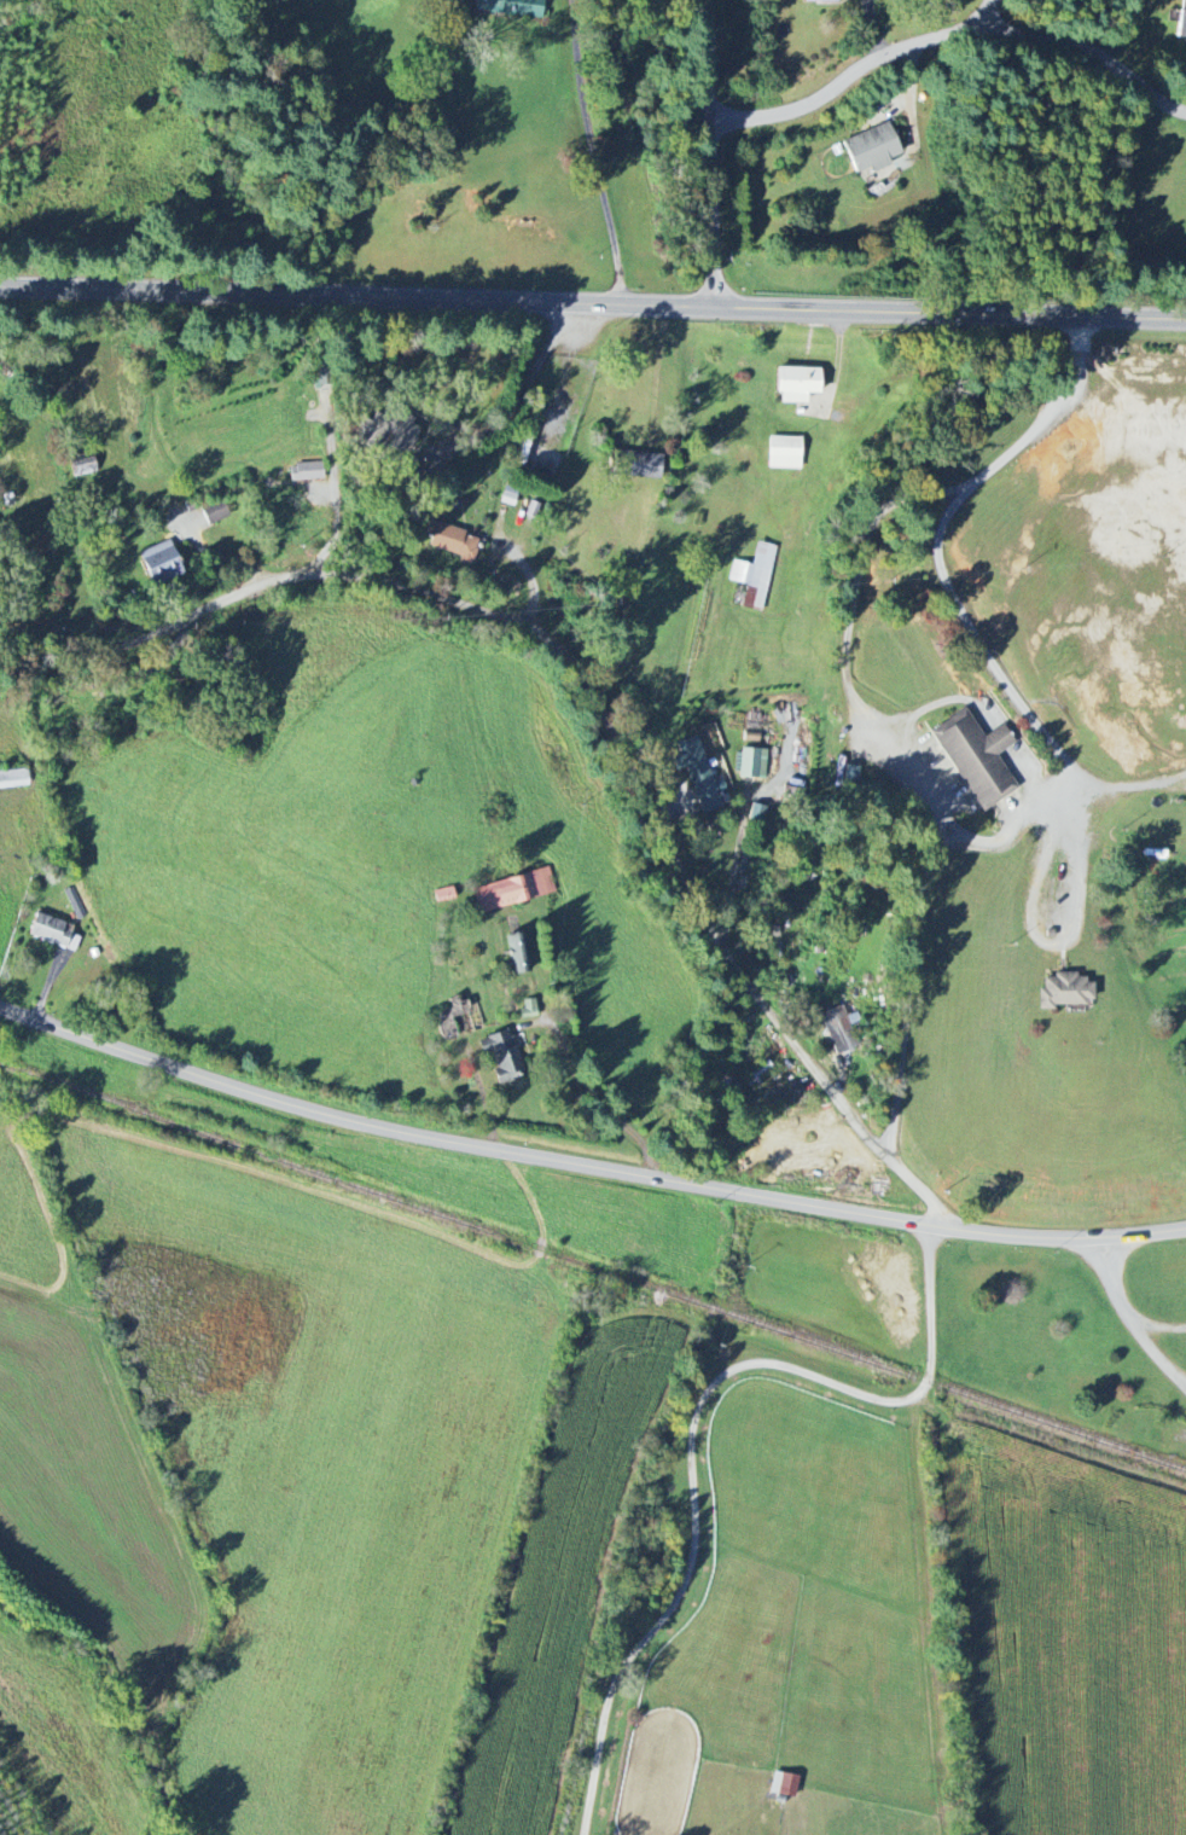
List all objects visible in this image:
building: (826, 0)
building: (511, 7)
road: (984, 16)
building: (1182, 21)
road: (952, 35)
building: (872, 149)
road: (598, 151)
road: (716, 152)
road: (593, 301)
building: (797, 384)
road: (519, 389)
building: (393, 430)
building: (785, 453)
building: (634, 464)
building: (83, 465)
building: (307, 471)
building: (215, 512)
road: (336, 533)
building: (455, 542)
building: (161, 562)
building: (755, 575)
road: (579, 582)
road: (599, 685)
building: (977, 759)
building: (754, 763)
building: (851, 774)
building: (698, 776)
building: (13, 779)
road: (1052, 797)
building: (757, 812)
building: (514, 890)
building: (443, 895)
building: (76, 904)
building: (54, 933)
road: (1066, 940)
building: (517, 953)
road: (909, 987)
building: (1065, 991)
building: (528, 1009)
building: (843, 1032)
building: (504, 1055)
road: (585, 1169)
railway: (592, 1272)
road: (1114, 1283)
road: (1162, 1326)
road: (1159, 1355)
road: (707, 1425)
building: (784, 1784)

